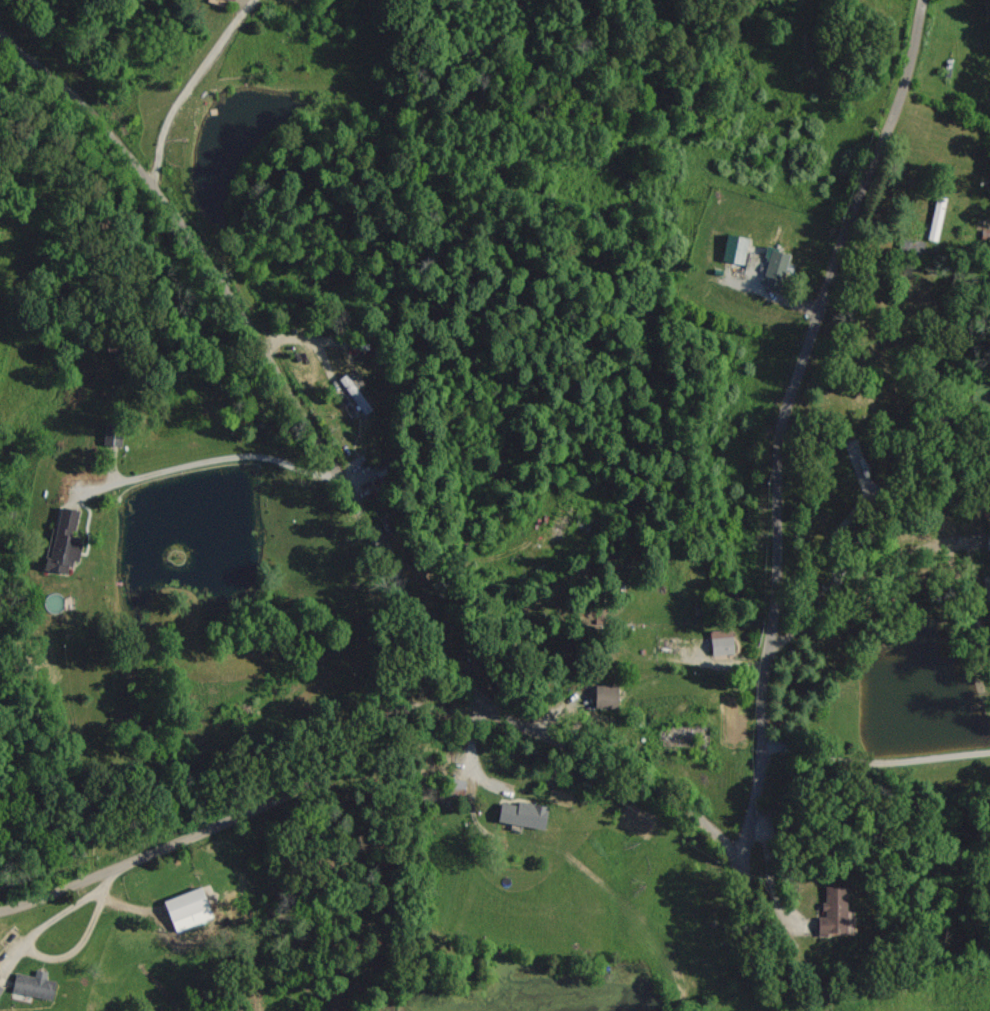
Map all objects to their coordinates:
building: (229, 0)
building: (934, 218)
building: (733, 248)
building: (773, 266)
building: (353, 393)
road: (780, 419)
road: (212, 473)
building: (62, 541)
road: (376, 561)
building: (719, 642)
building: (600, 696)
road: (872, 762)
road: (256, 809)
building: (521, 814)
building: (185, 909)
building: (831, 911)
building: (32, 985)
building: (0, 986)

